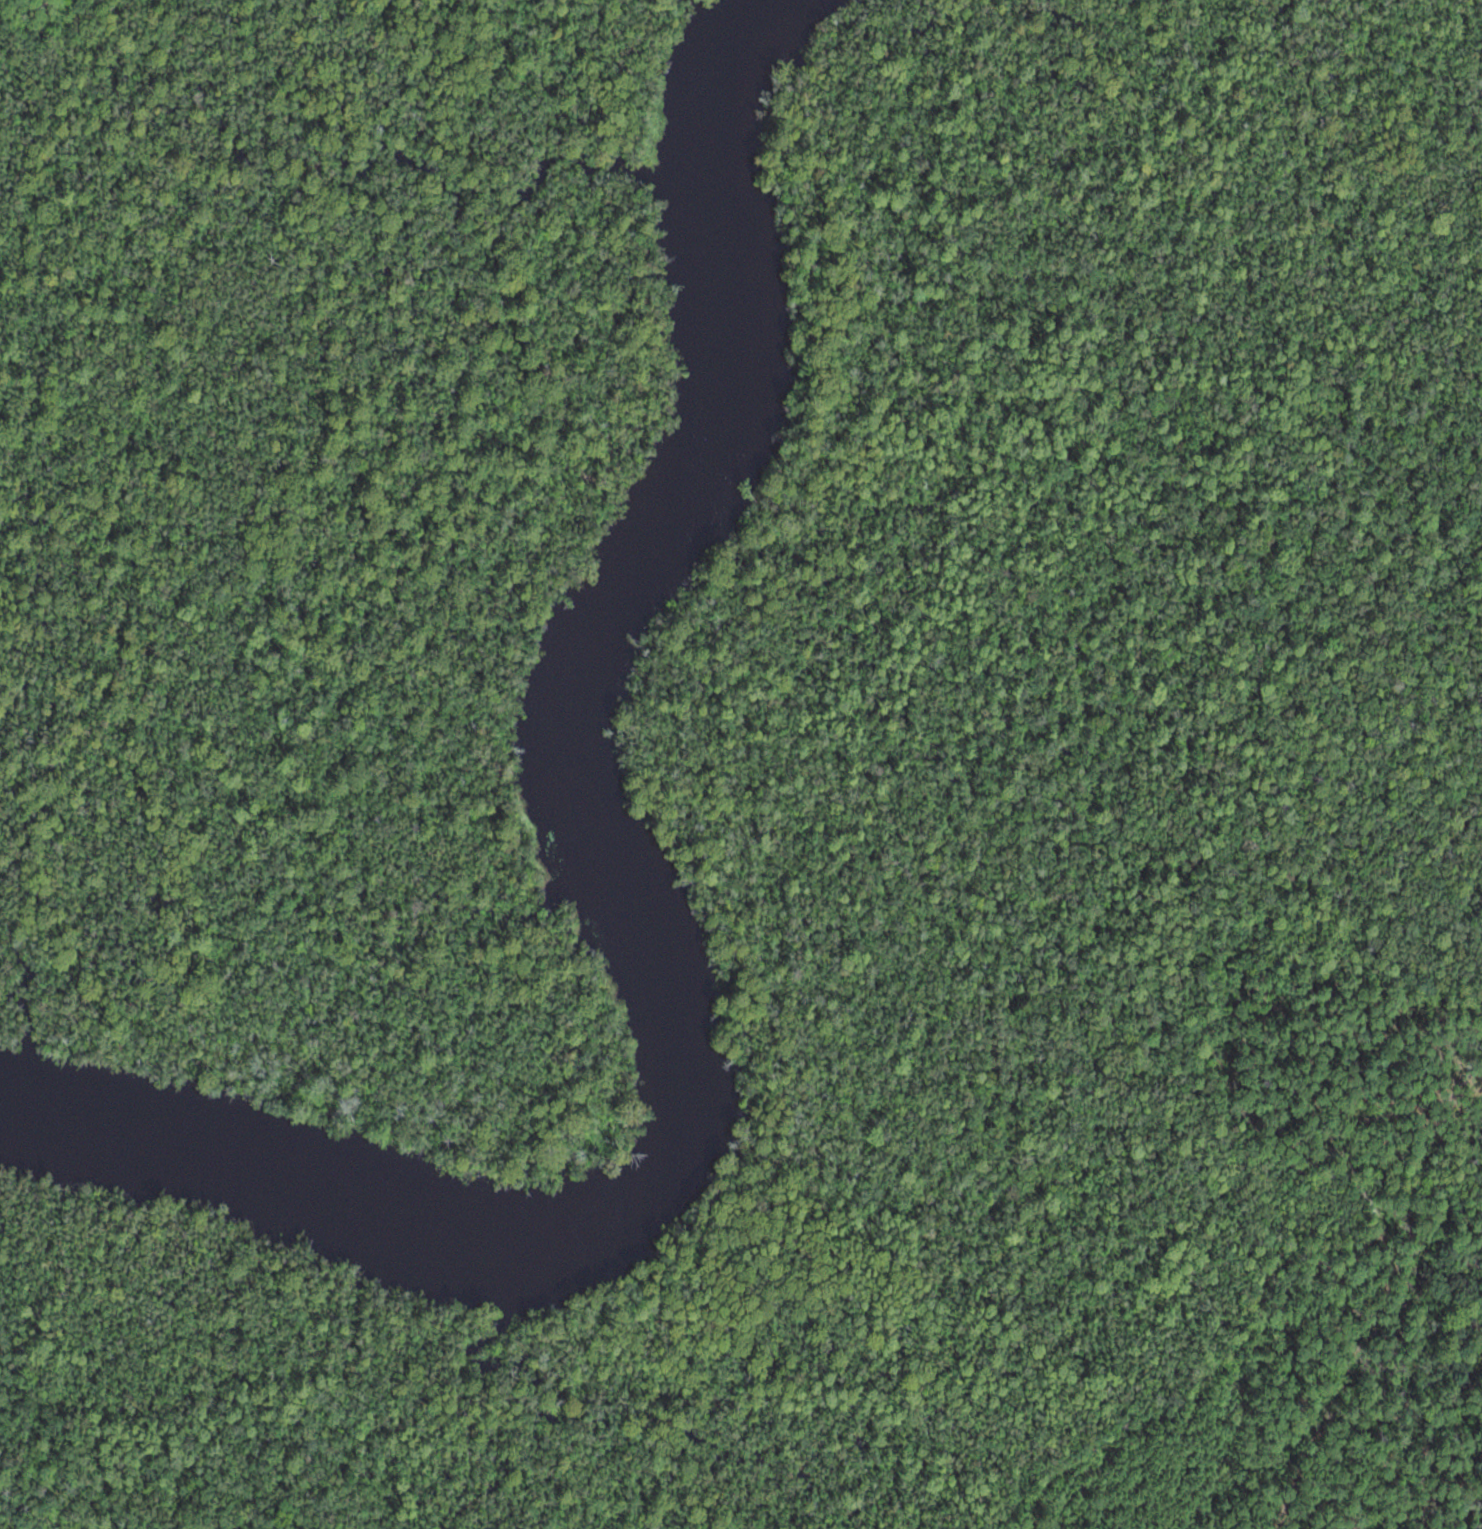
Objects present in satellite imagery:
road: (1335, 1395)

